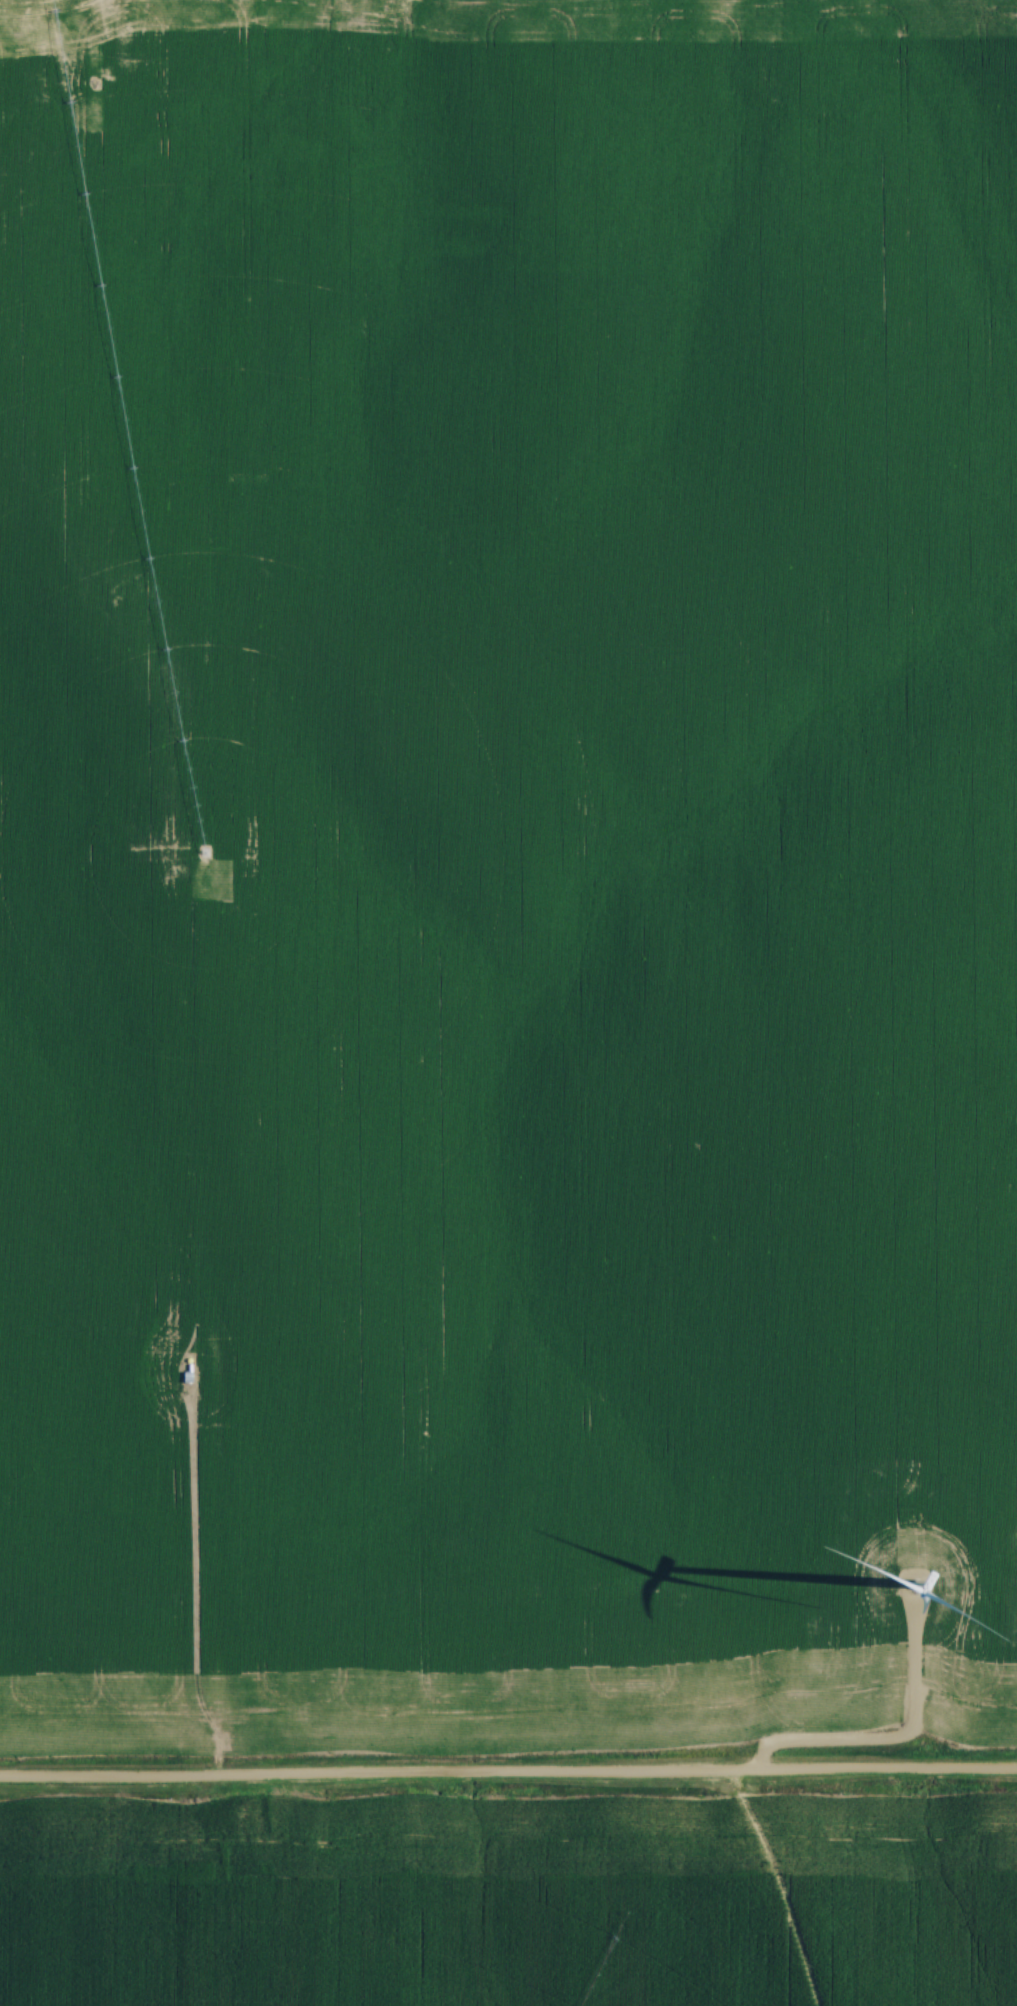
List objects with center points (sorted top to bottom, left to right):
road: (100, 8)
building: (34, 34)
building: (147, 121)
wind turbine: (914, 1583)
road: (508, 1777)

